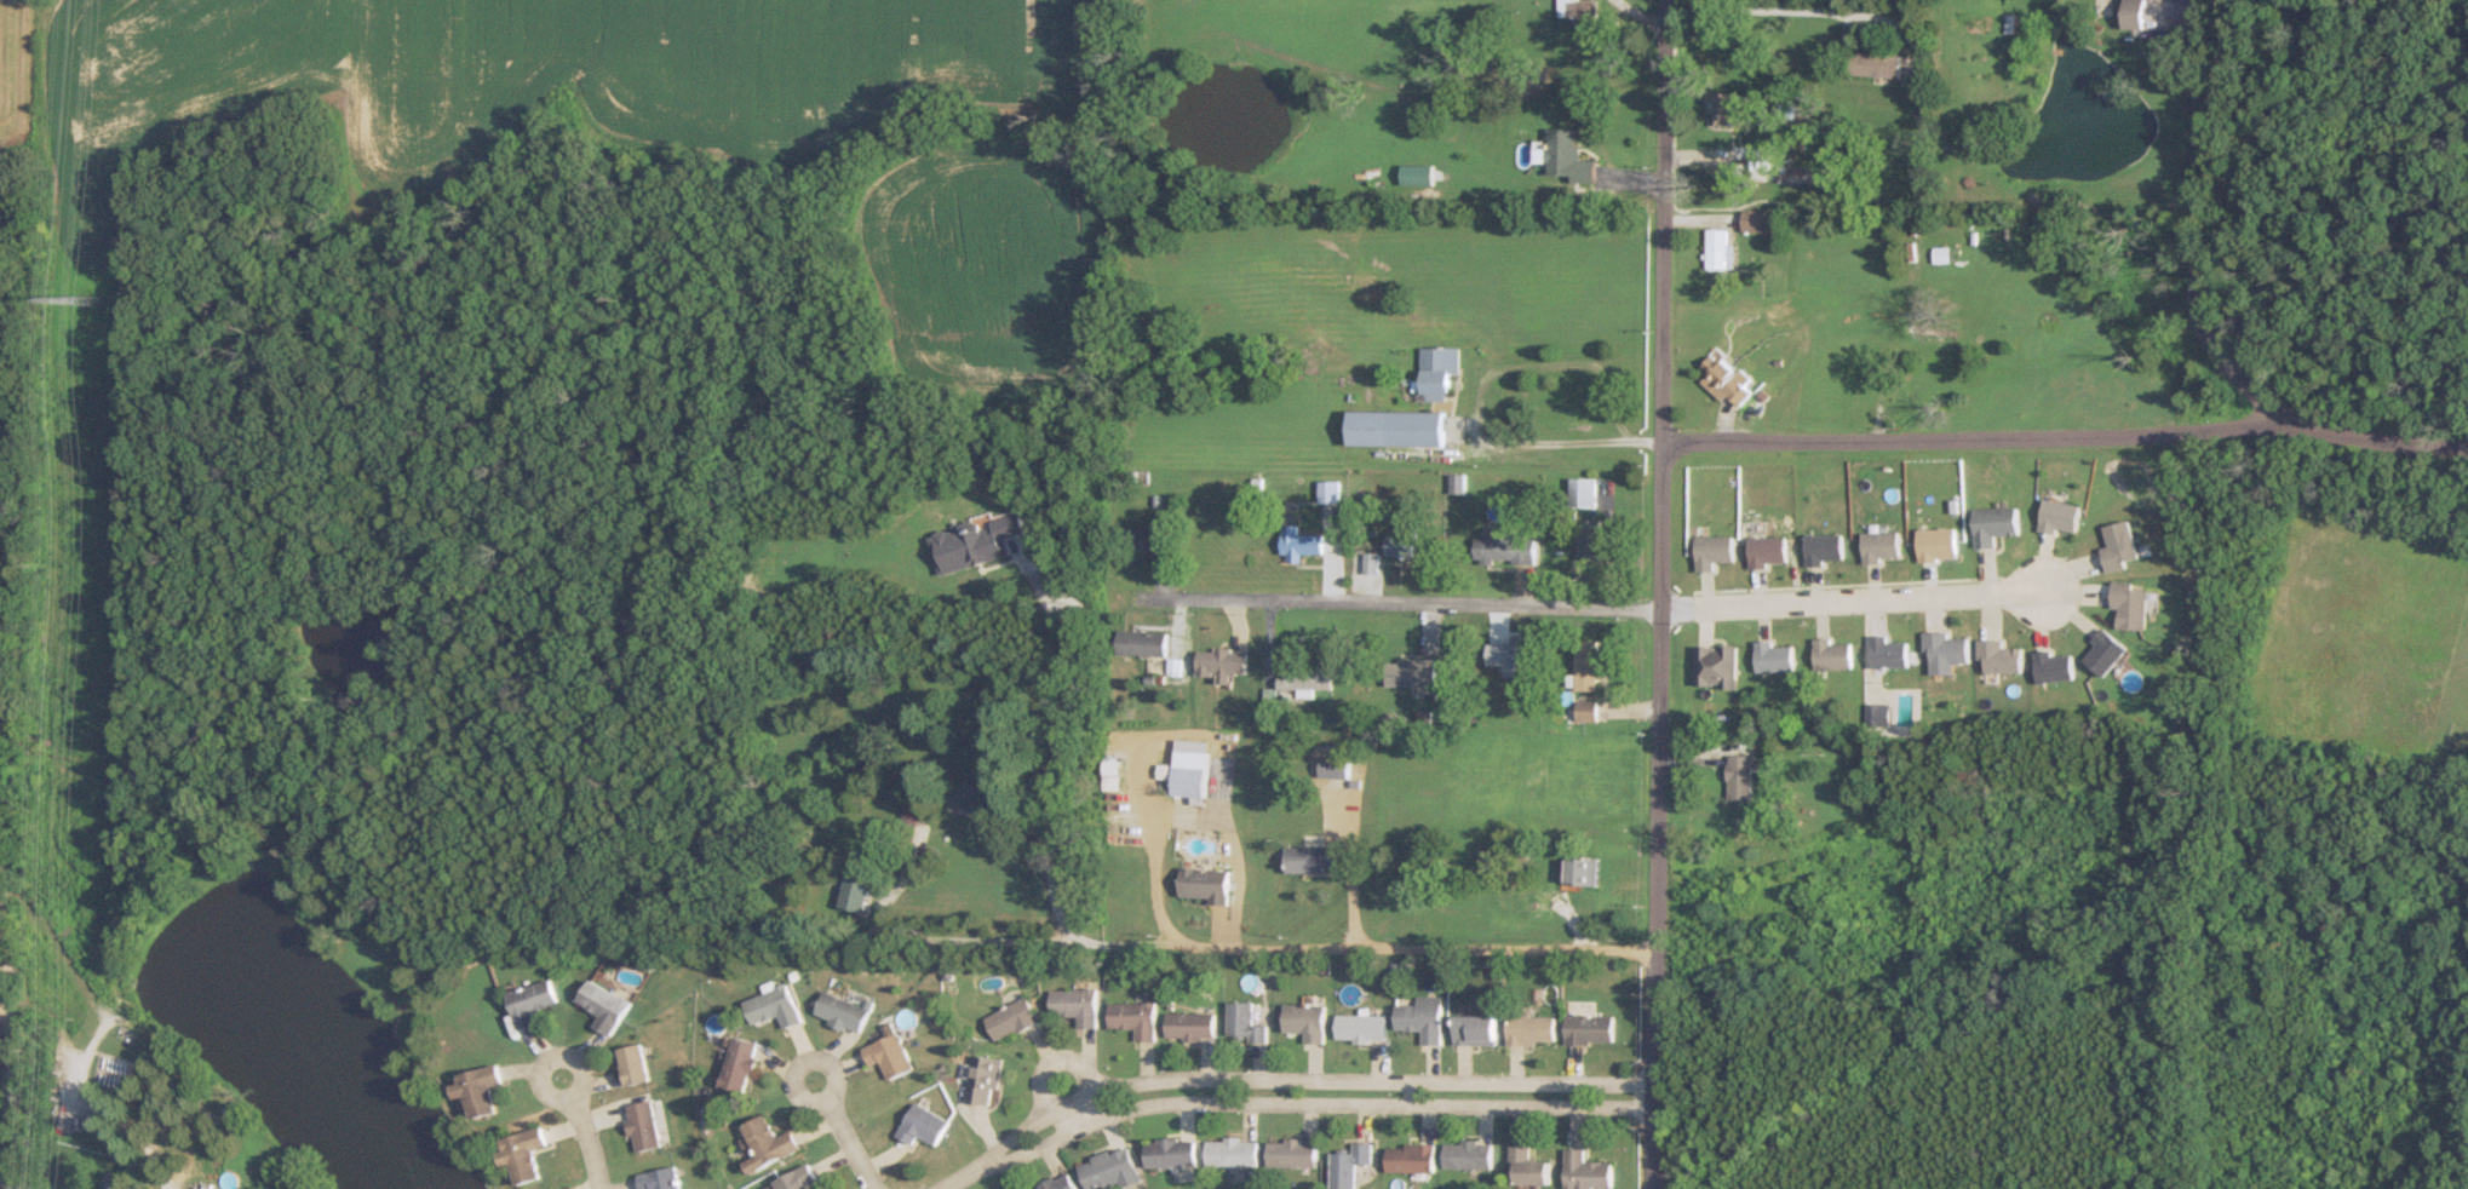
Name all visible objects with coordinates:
road: (1801, 10)
building: (1582, 13)
building: (2135, 13)
building: (1877, 64)
building: (1724, 107)
building: (1568, 156)
building: (1760, 157)
building: (1417, 174)
building: (1754, 220)
road: (2197, 234)
building: (1717, 249)
building: (1942, 254)
power tower: (88, 300)
road: (1896, 347)
building: (1727, 380)
road: (1479, 401)
building: (1397, 427)
road: (2066, 435)
building: (1584, 492)
building: (1997, 523)
building: (1149, 539)
building: (1588, 539)
building: (1404, 541)
building: (1301, 544)
building: (1506, 546)
building: (1371, 564)
road: (1659, 594)
road: (1849, 598)
road: (1407, 603)
road: (5, 607)
building: (1143, 643)
building: (1589, 666)
building: (1717, 666)
building: (1412, 673)
building: (1307, 677)
building: (1588, 711)
road: (1057, 766)
building: (1189, 772)
building: (1741, 777)
building: (968, 797)
road: (1190, 823)
building: (1314, 858)
road: (1350, 867)
building: (1584, 871)
building: (1204, 884)
building: (1519, 895)
road: (969, 940)
road: (1370, 950)
building: (532, 1003)
building: (1075, 1005)
building: (603, 1006)
building: (770, 1007)
building: (839, 1012)
building: (1135, 1018)
building: (1010, 1019)
building: (1420, 1019)
building: (1305, 1022)
building: (1244, 1023)
building: (1190, 1026)
building: (1360, 1028)
road: (5, 1029)
building: (1476, 1030)
building: (1531, 1030)
building: (1590, 1030)
building: (886, 1056)
building: (739, 1064)
building: (632, 1065)
building: (981, 1080)
building: (478, 1090)
road: (1062, 1098)
road: (1287, 1099)
building: (920, 1125)
building: (642, 1126)
road: (581, 1130)
road: (836, 1135)
building: (767, 1143)
building: (1171, 1153)
building: (1232, 1153)
building: (1292, 1153)
building: (522, 1154)
building: (1468, 1155)
building: (1411, 1158)
building: (1349, 1165)
building: (1528, 1167)
building: (1110, 1171)
building: (1586, 1171)
building: (659, 1179)
building: (797, 1179)
building: (1058, 1183)

